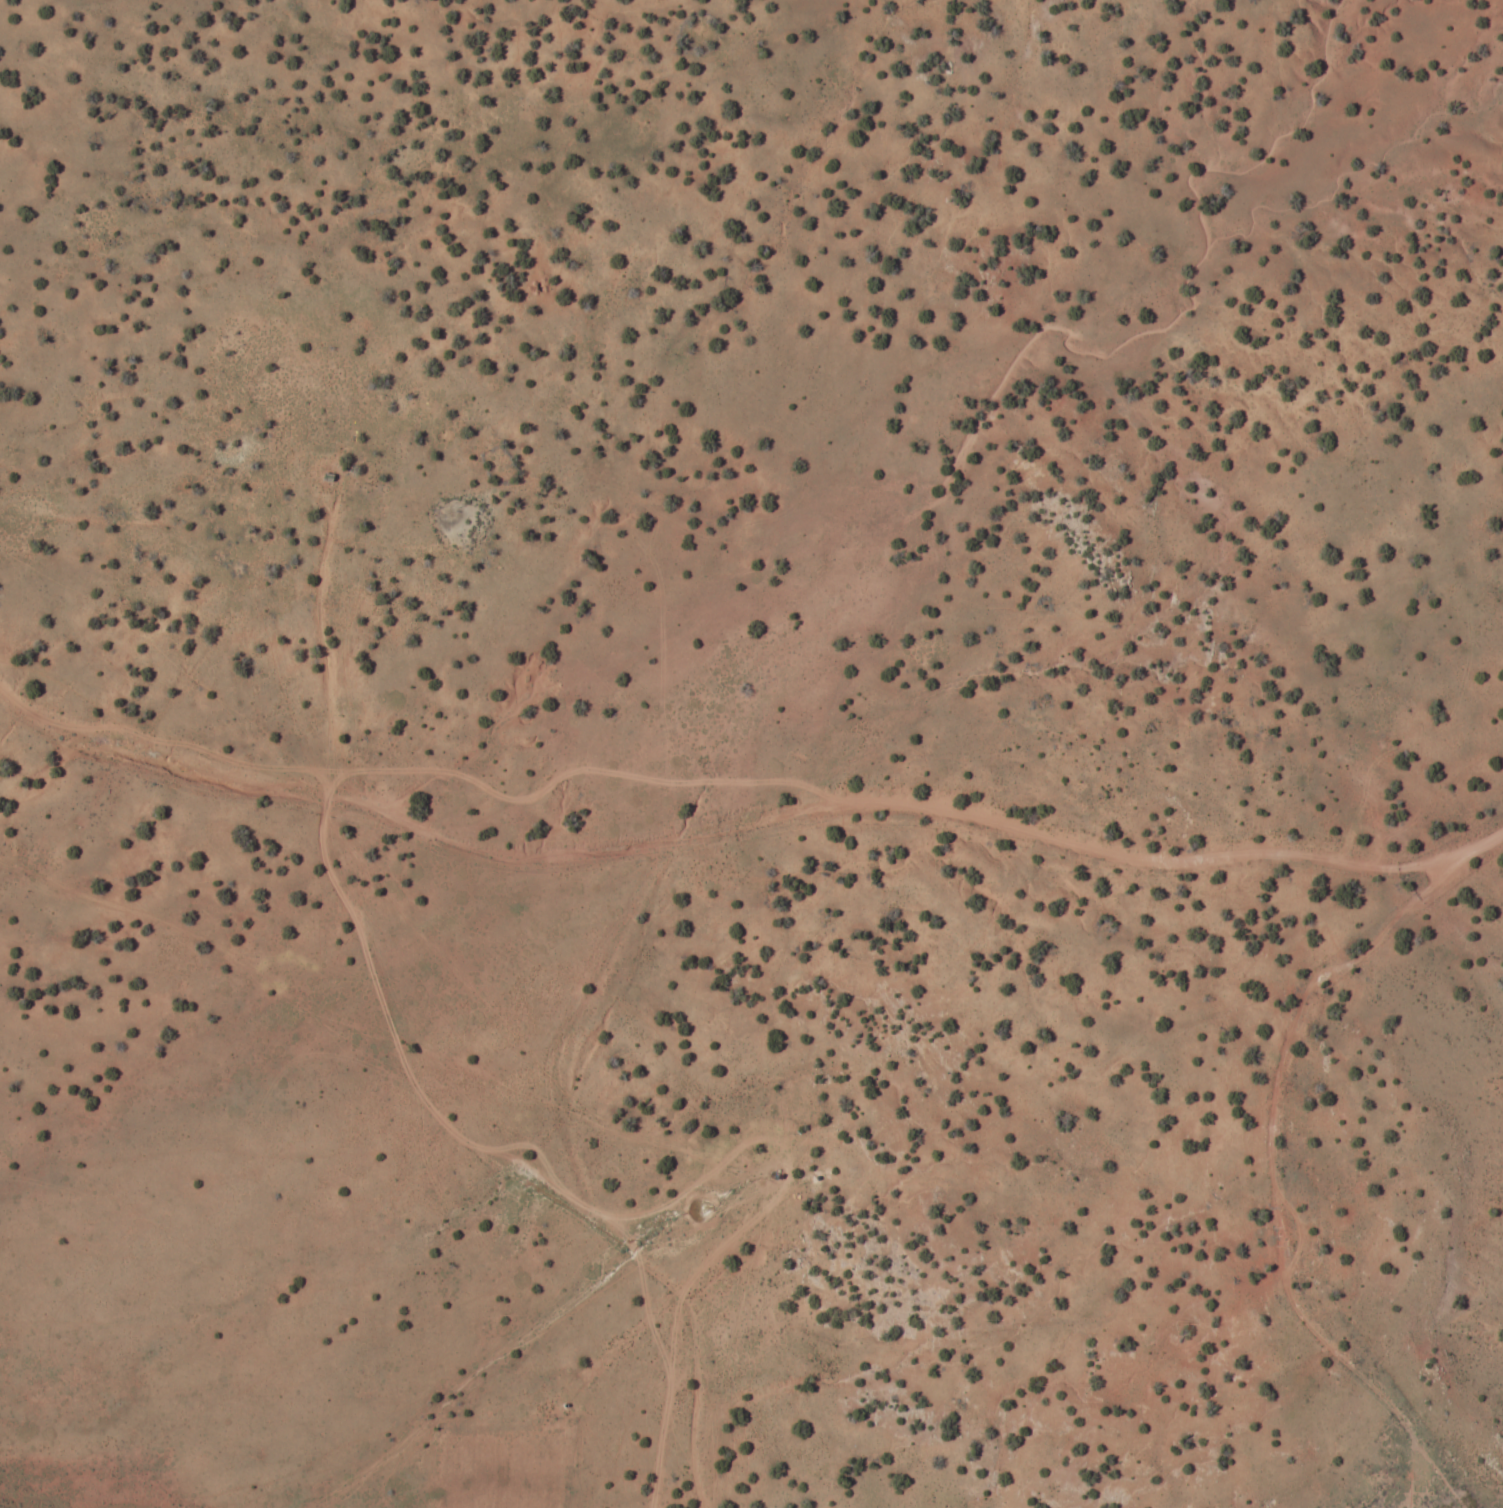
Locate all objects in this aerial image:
road: (732, 831)
road: (1496, 836)
road: (402, 1063)
road: (1268, 1131)
road: (581, 1187)

